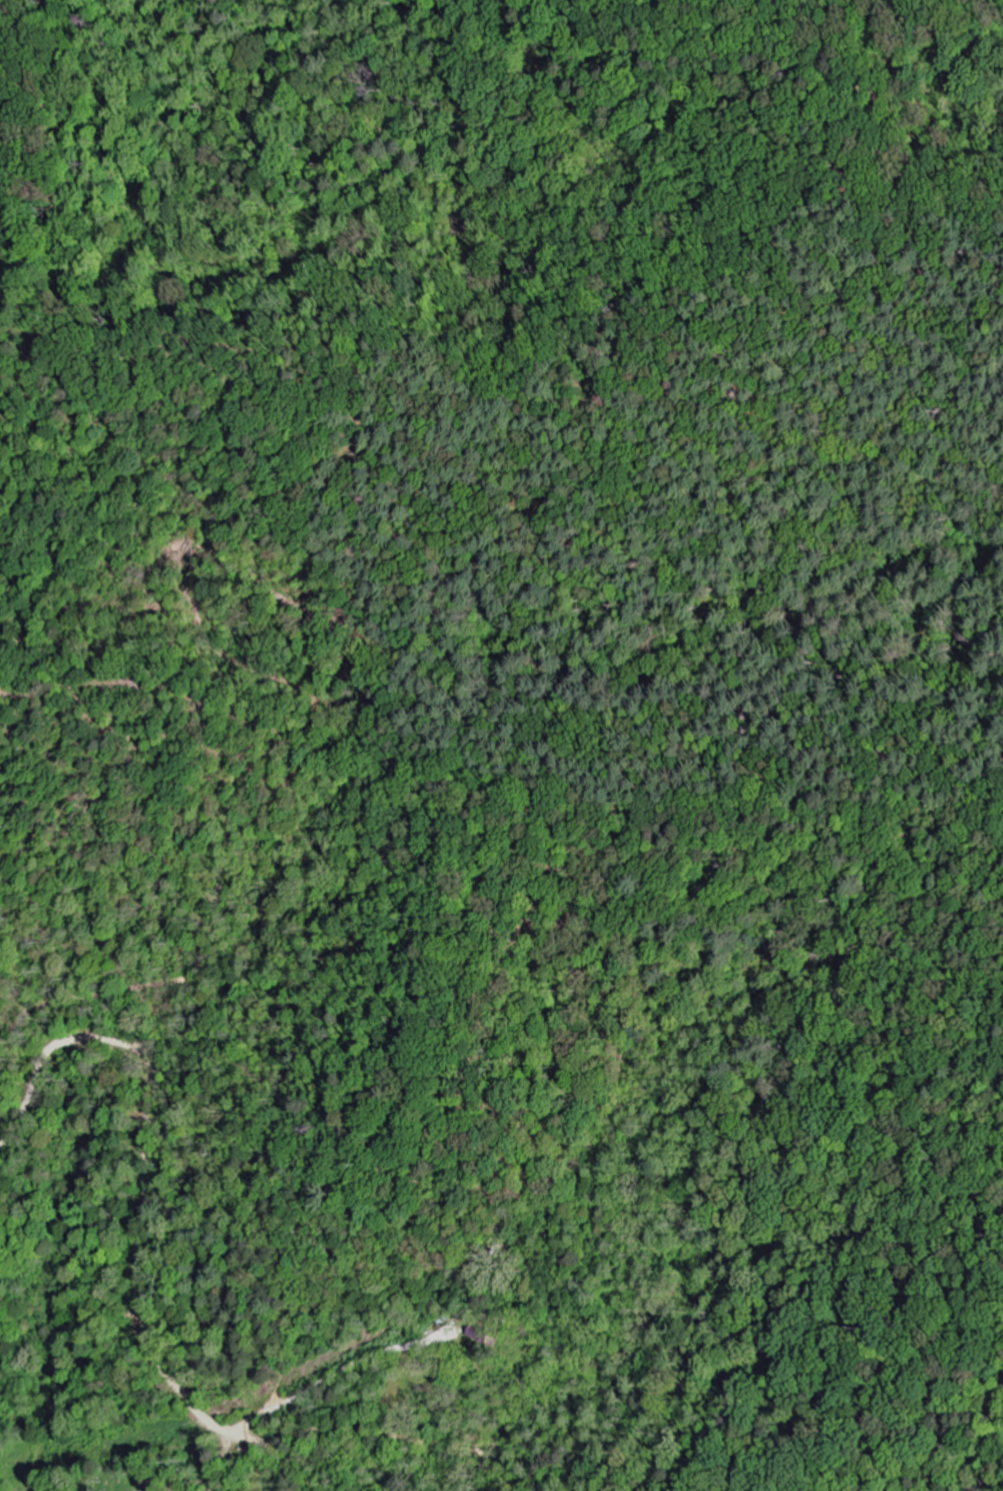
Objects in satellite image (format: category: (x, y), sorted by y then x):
road: (138, 1297)

